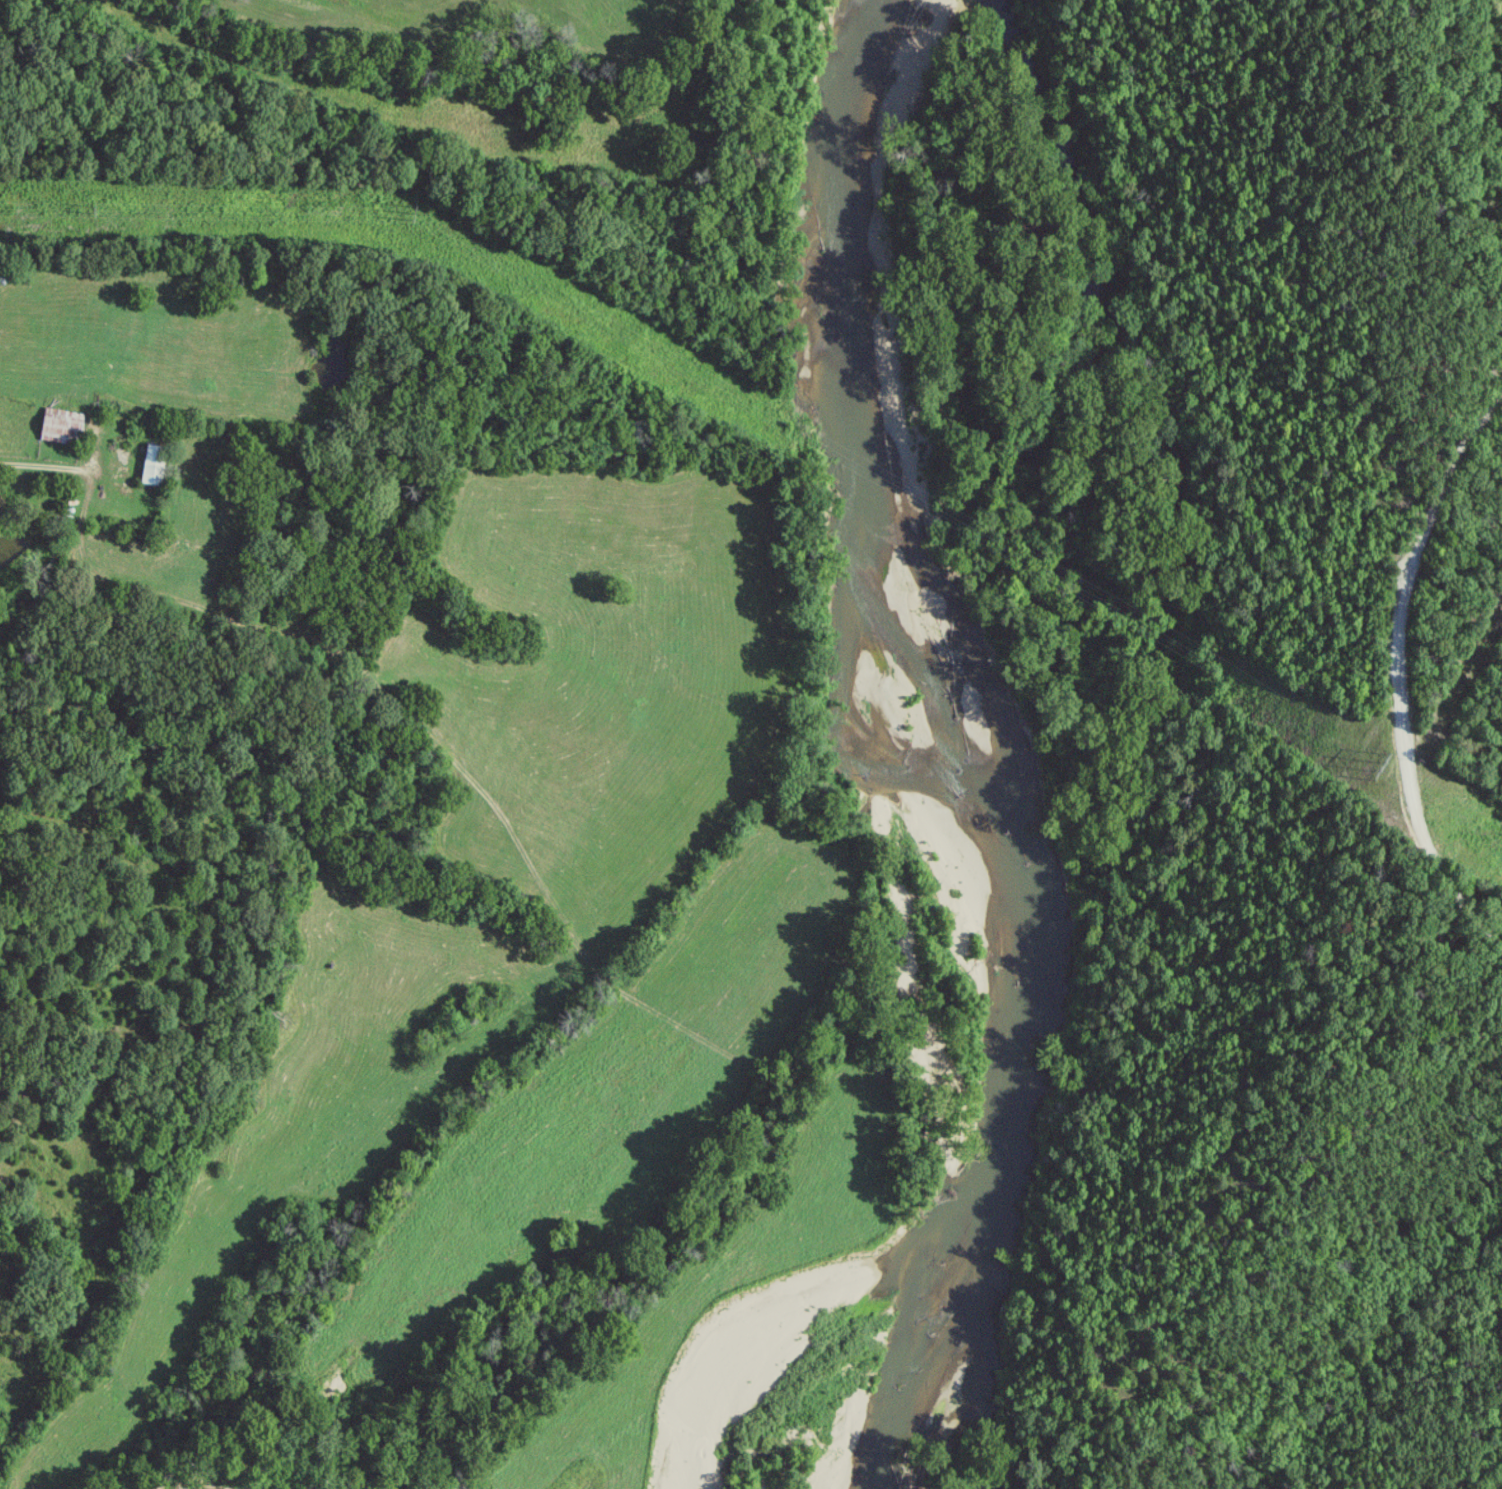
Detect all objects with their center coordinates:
building: (64, 426)
building: (157, 465)
road: (39, 469)
road: (1411, 676)
river: (902, 823)

